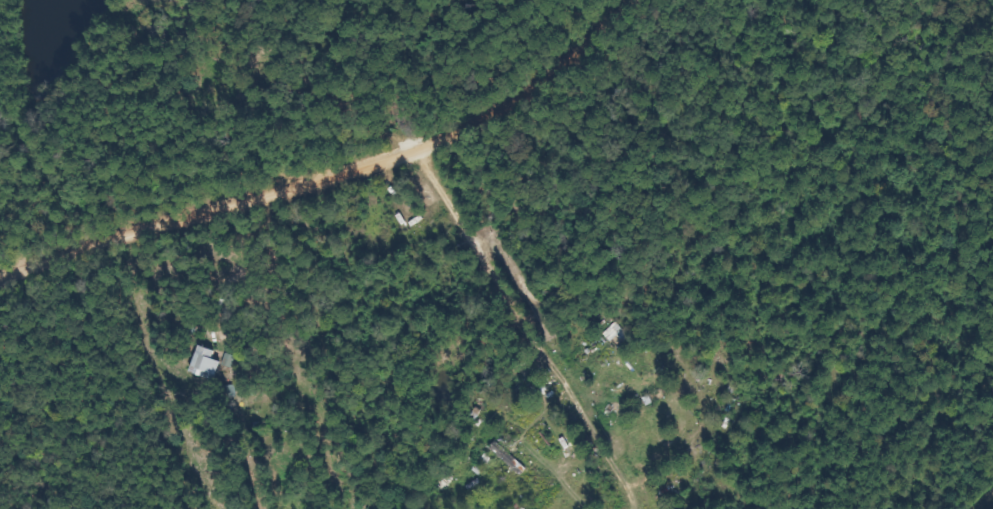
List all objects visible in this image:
road: (329, 169)
building: (202, 362)

